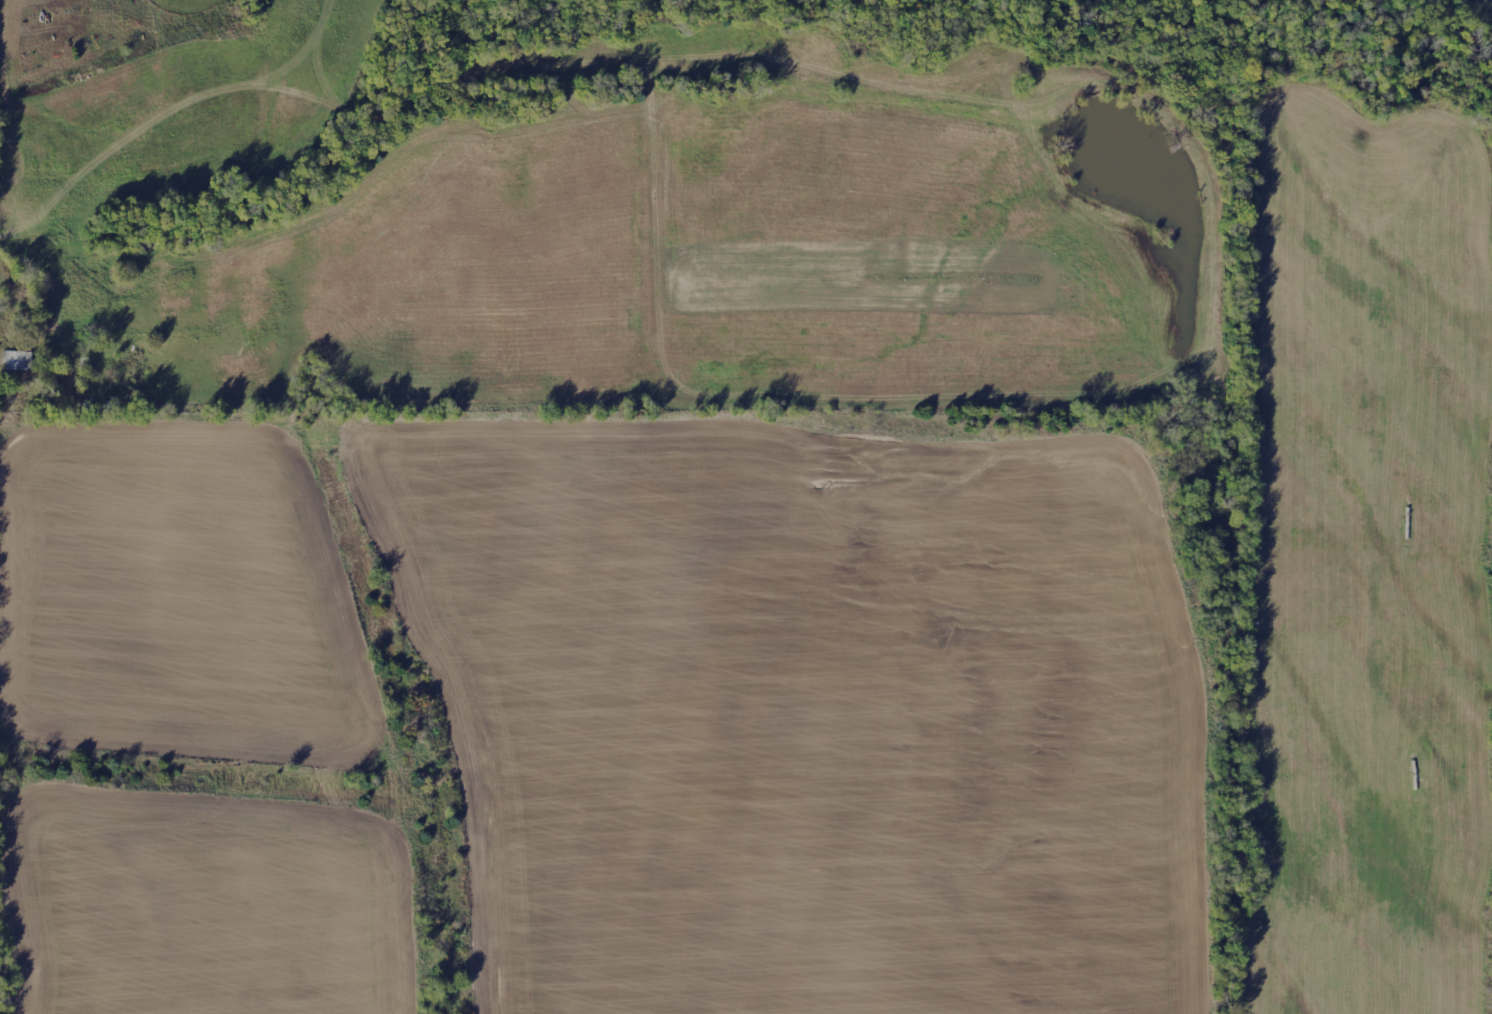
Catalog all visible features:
building: (12, 362)

